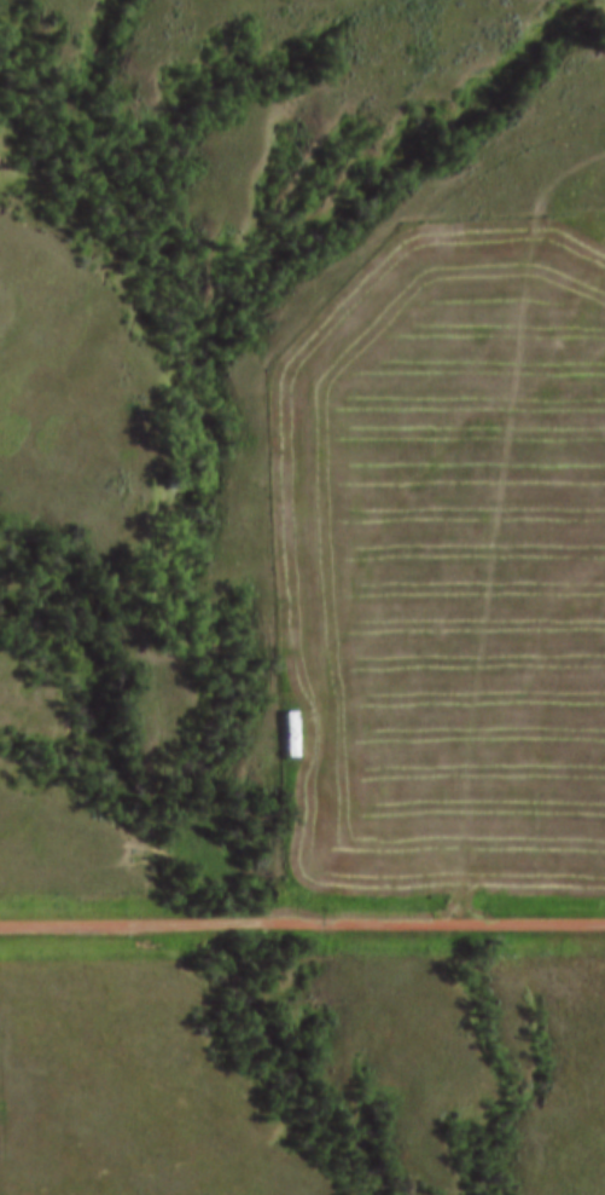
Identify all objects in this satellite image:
building: (286, 734)
road: (302, 929)

